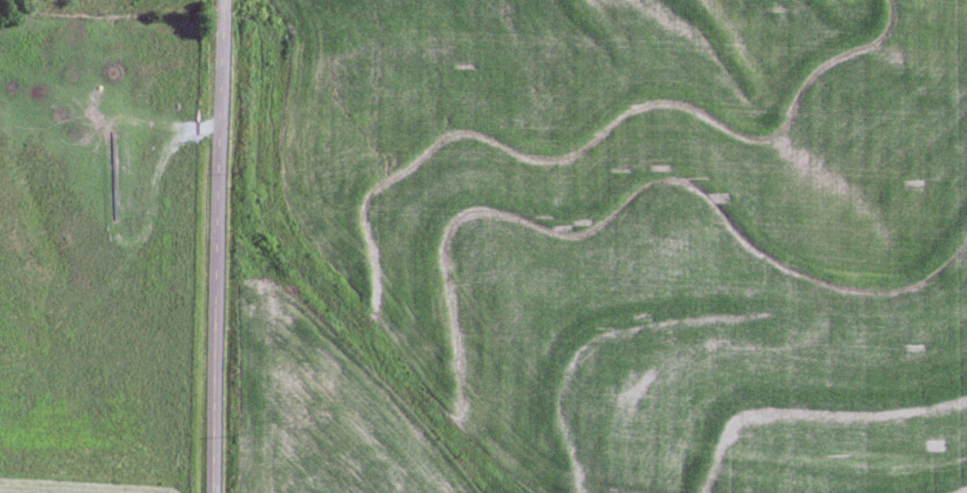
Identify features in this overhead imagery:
road: (216, 246)

